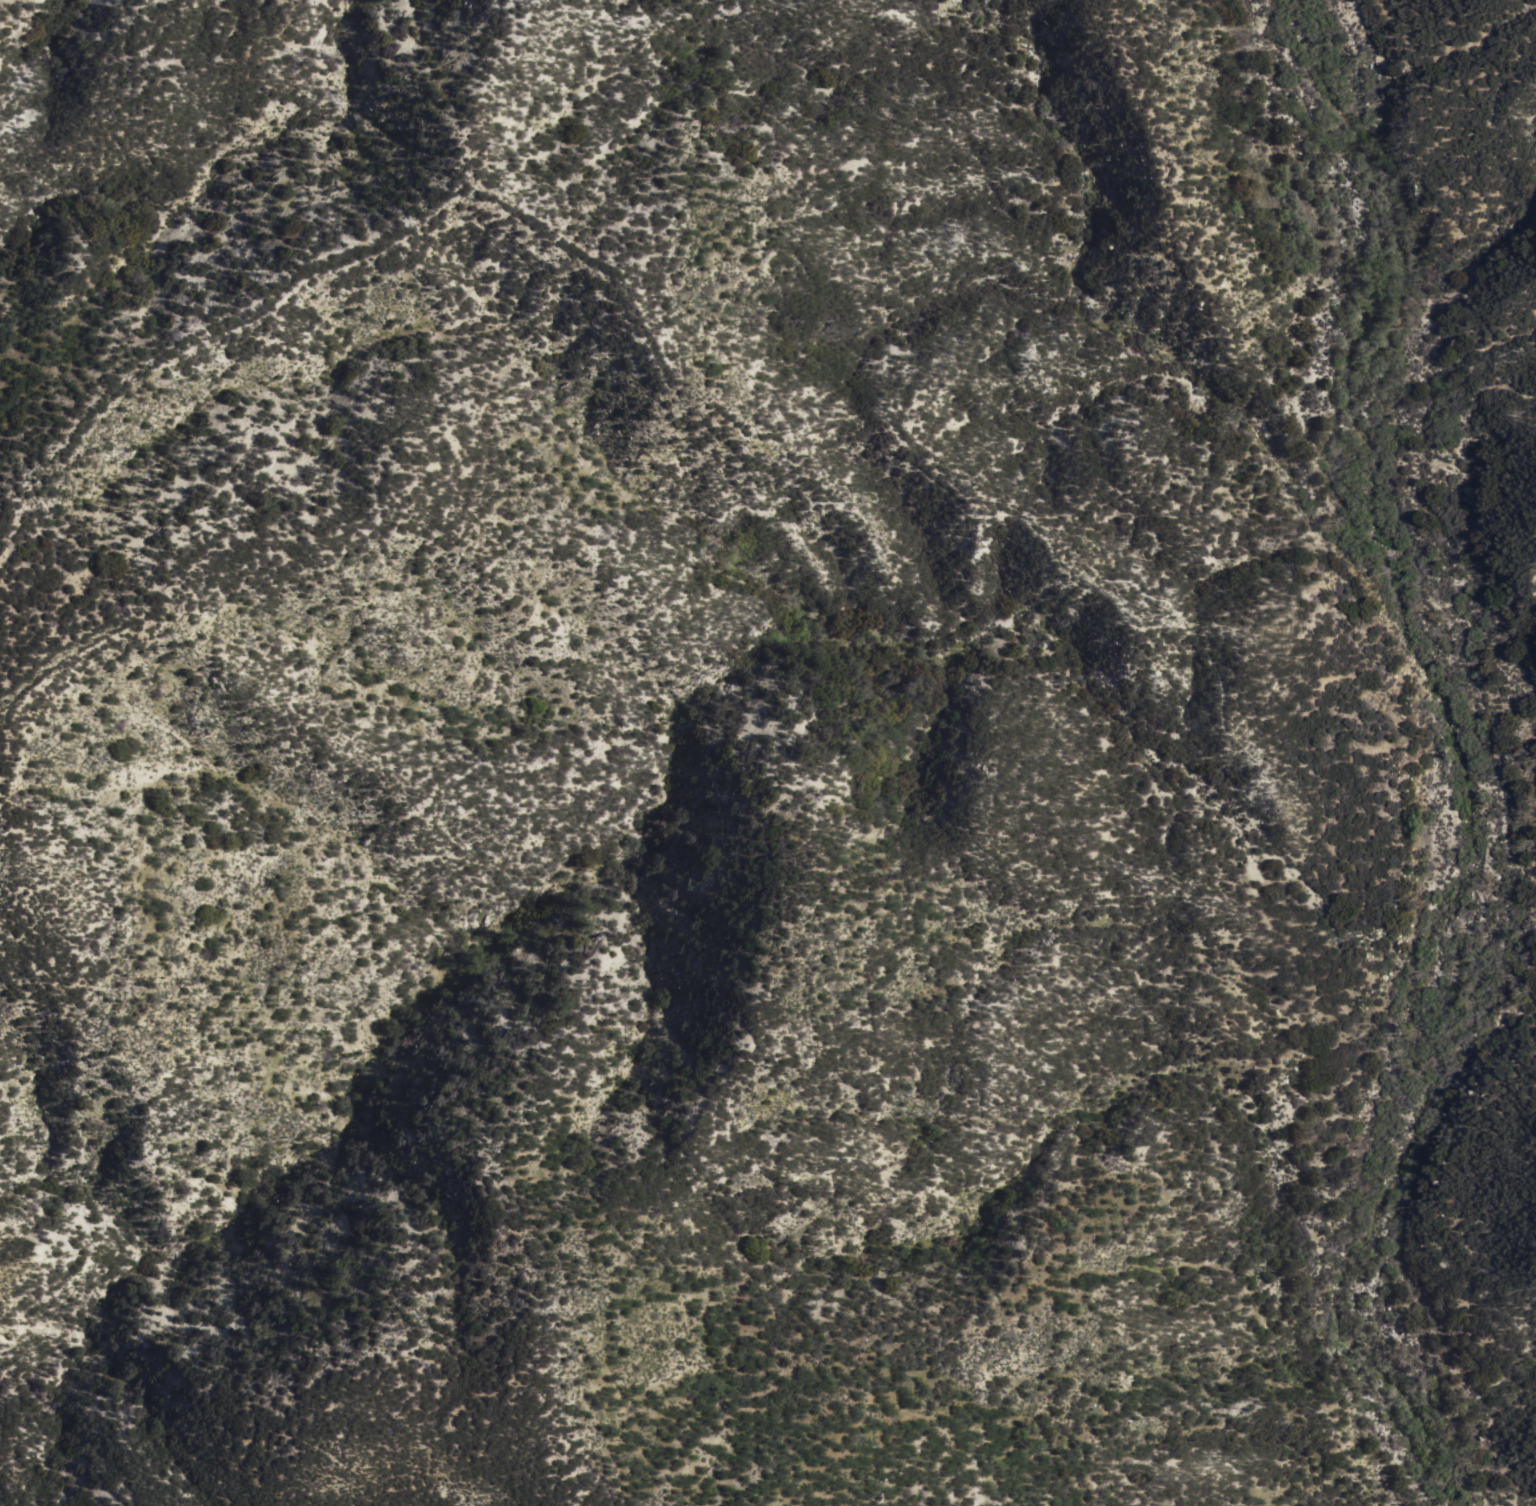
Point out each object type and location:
road: (810, 489)

